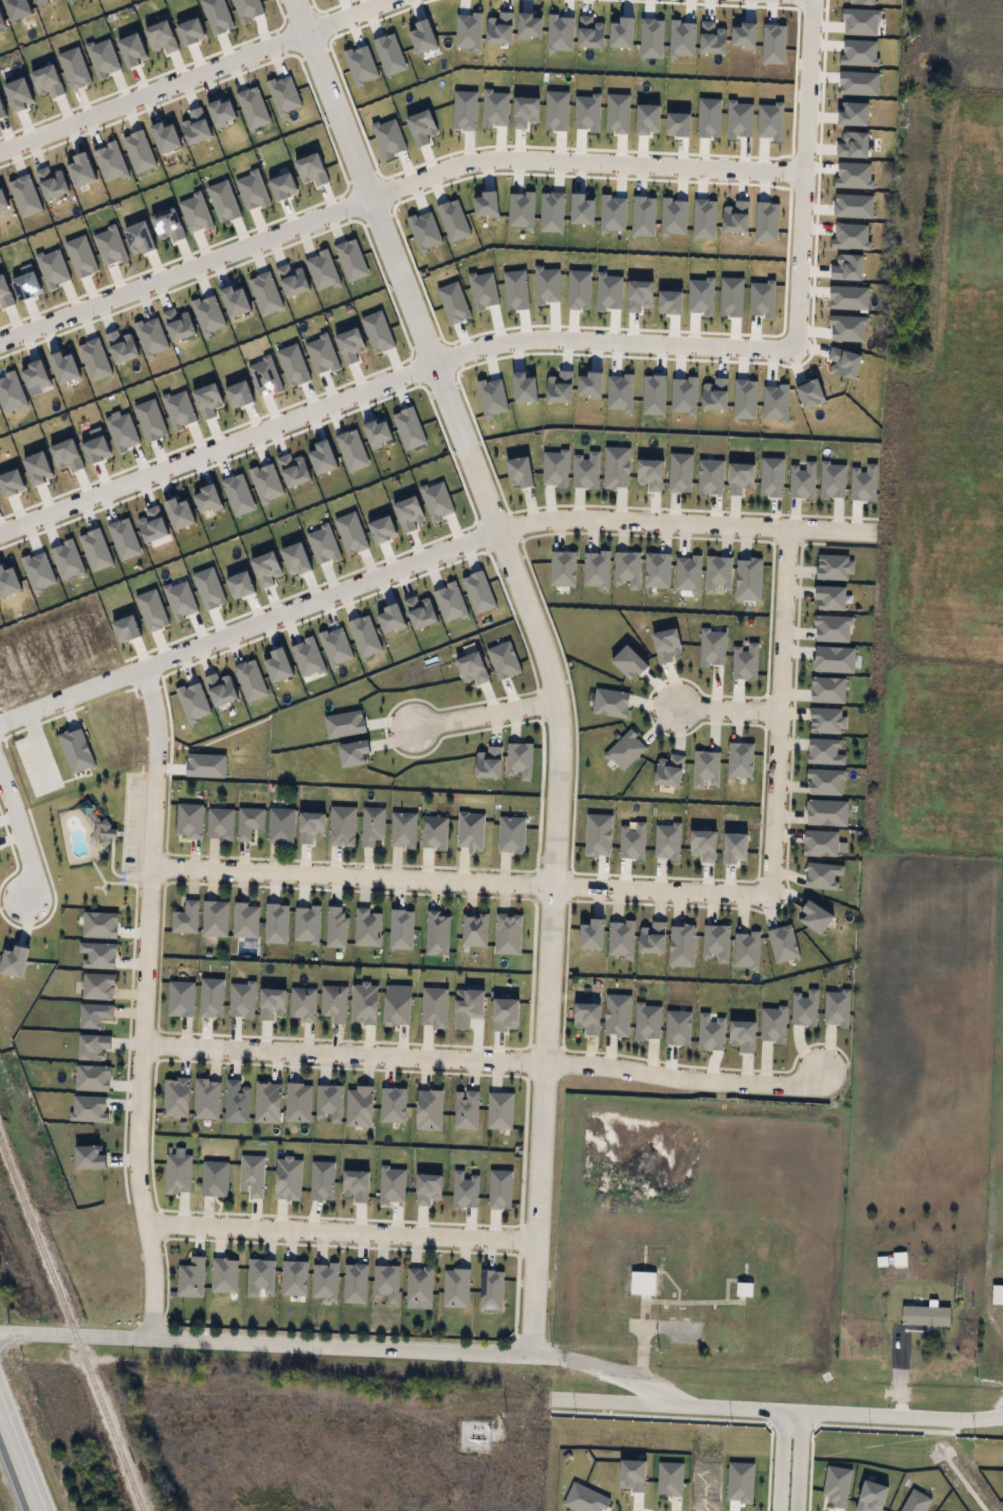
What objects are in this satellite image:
road: (186, 72)
road: (801, 171)
road: (389, 185)
road: (386, 378)
road: (421, 554)
road: (544, 652)
road: (725, 705)
road: (777, 706)
road: (485, 709)
building: (625, 751)
building: (519, 764)
building: (490, 767)
building: (704, 770)
building: (669, 776)
building: (190, 821)
building: (250, 823)
building: (220, 824)
building: (282, 825)
building: (372, 826)
building: (404, 831)
road: (21, 832)
building: (469, 833)
building: (434, 834)
building: (512, 834)
building: (598, 838)
building: (667, 842)
building: (631, 844)
building: (705, 846)
building: (738, 850)
road: (458, 875)
building: (187, 918)
building: (215, 918)
building: (246, 920)
building: (336, 926)
building: (367, 927)
building: (474, 933)
building: (437, 936)
building: (510, 936)
building: (595, 937)
building: (621, 940)
building: (654, 942)
building: (715, 944)
building: (682, 949)
building: (746, 951)
building: (98, 986)
road: (144, 998)
building: (181, 999)
building: (334, 1003)
building: (94, 1016)
road: (483, 1055)
building: (215, 1179)
road: (339, 1227)
building: (192, 1278)
building: (643, 1283)
building: (420, 1285)
building: (744, 1290)
building: (926, 1316)
railway: (72, 1325)
road: (506, 1347)
road: (999, 1404)
road: (787, 1459)
road: (16, 1464)

